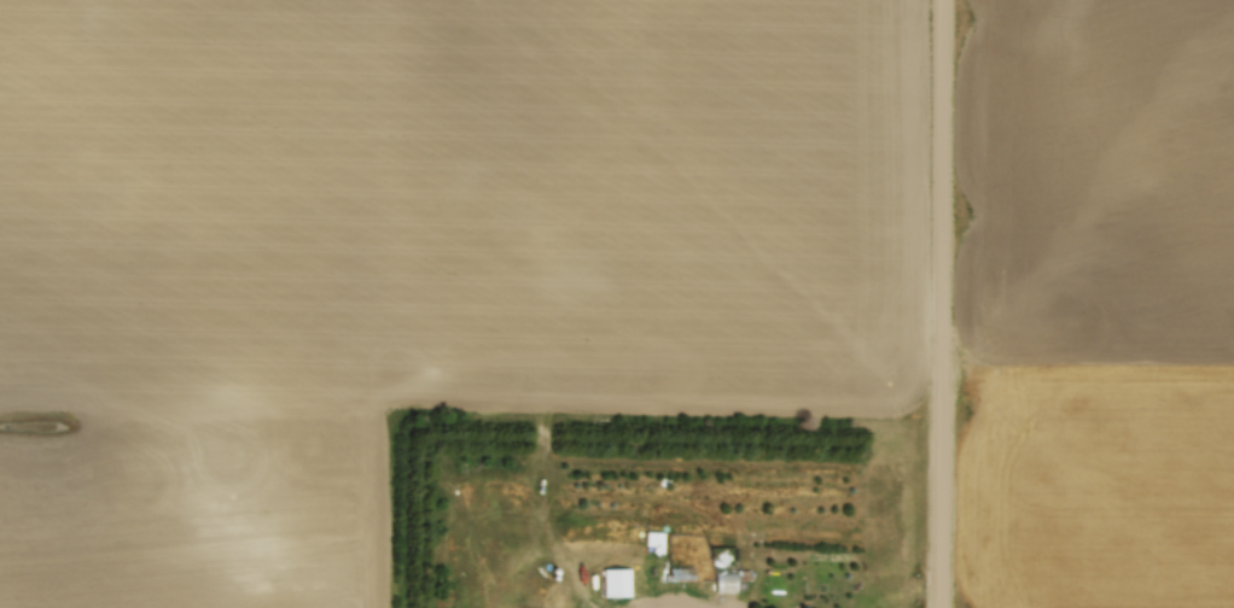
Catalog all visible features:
crop: (454, 236)
road: (941, 303)
crop: (1098, 303)
road: (539, 504)
silo: (552, 567)
building: (676, 569)
silo: (547, 573)
building: (611, 578)
building: (722, 578)
silo: (545, 581)
silo: (534, 586)
silo: (548, 595)
road: (512, 597)
road: (670, 603)
road: (593, 606)

